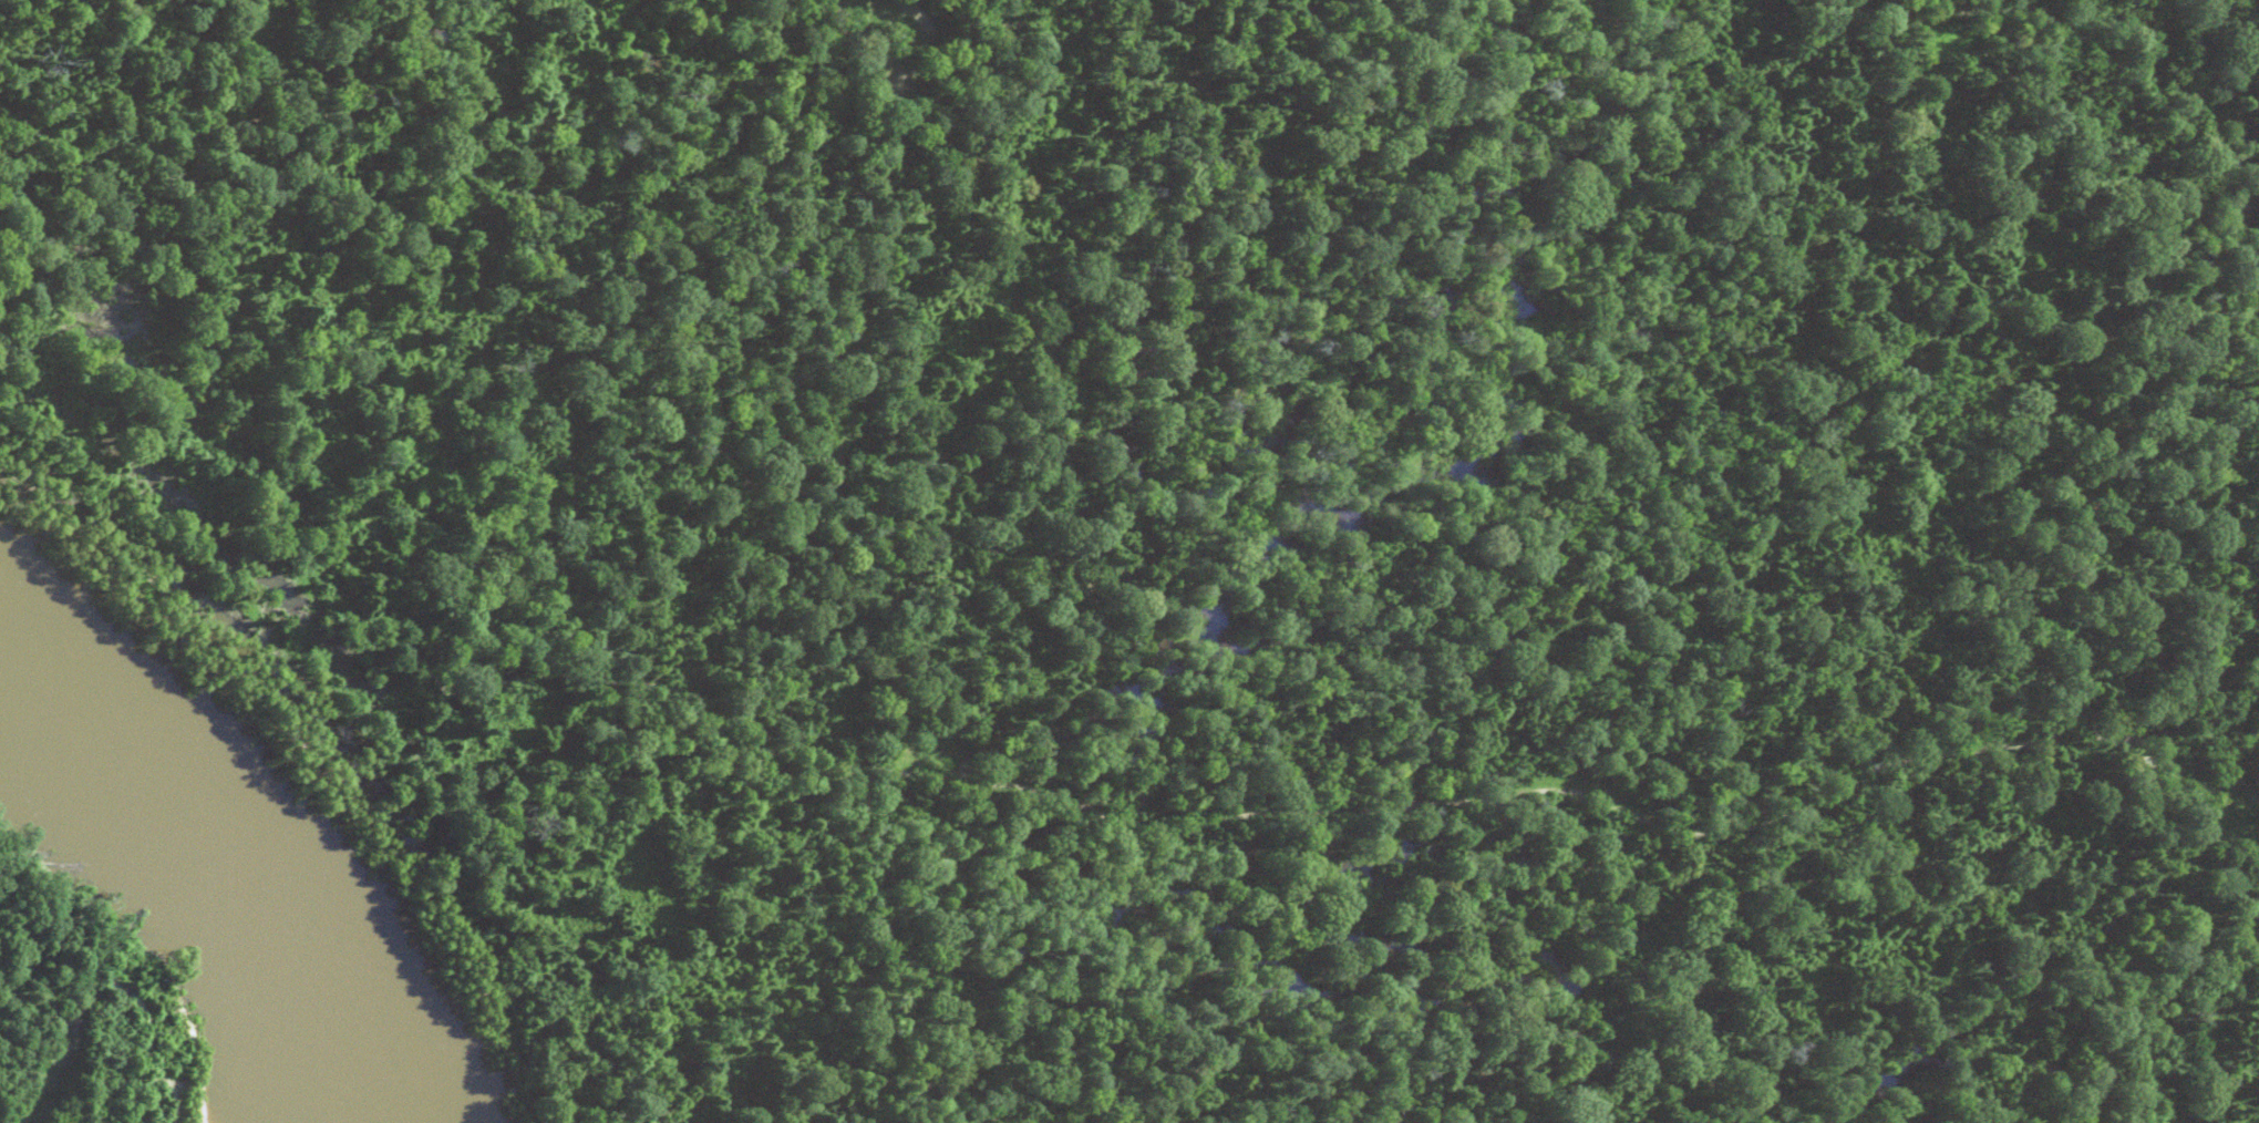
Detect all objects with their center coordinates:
river: (245, 875)

